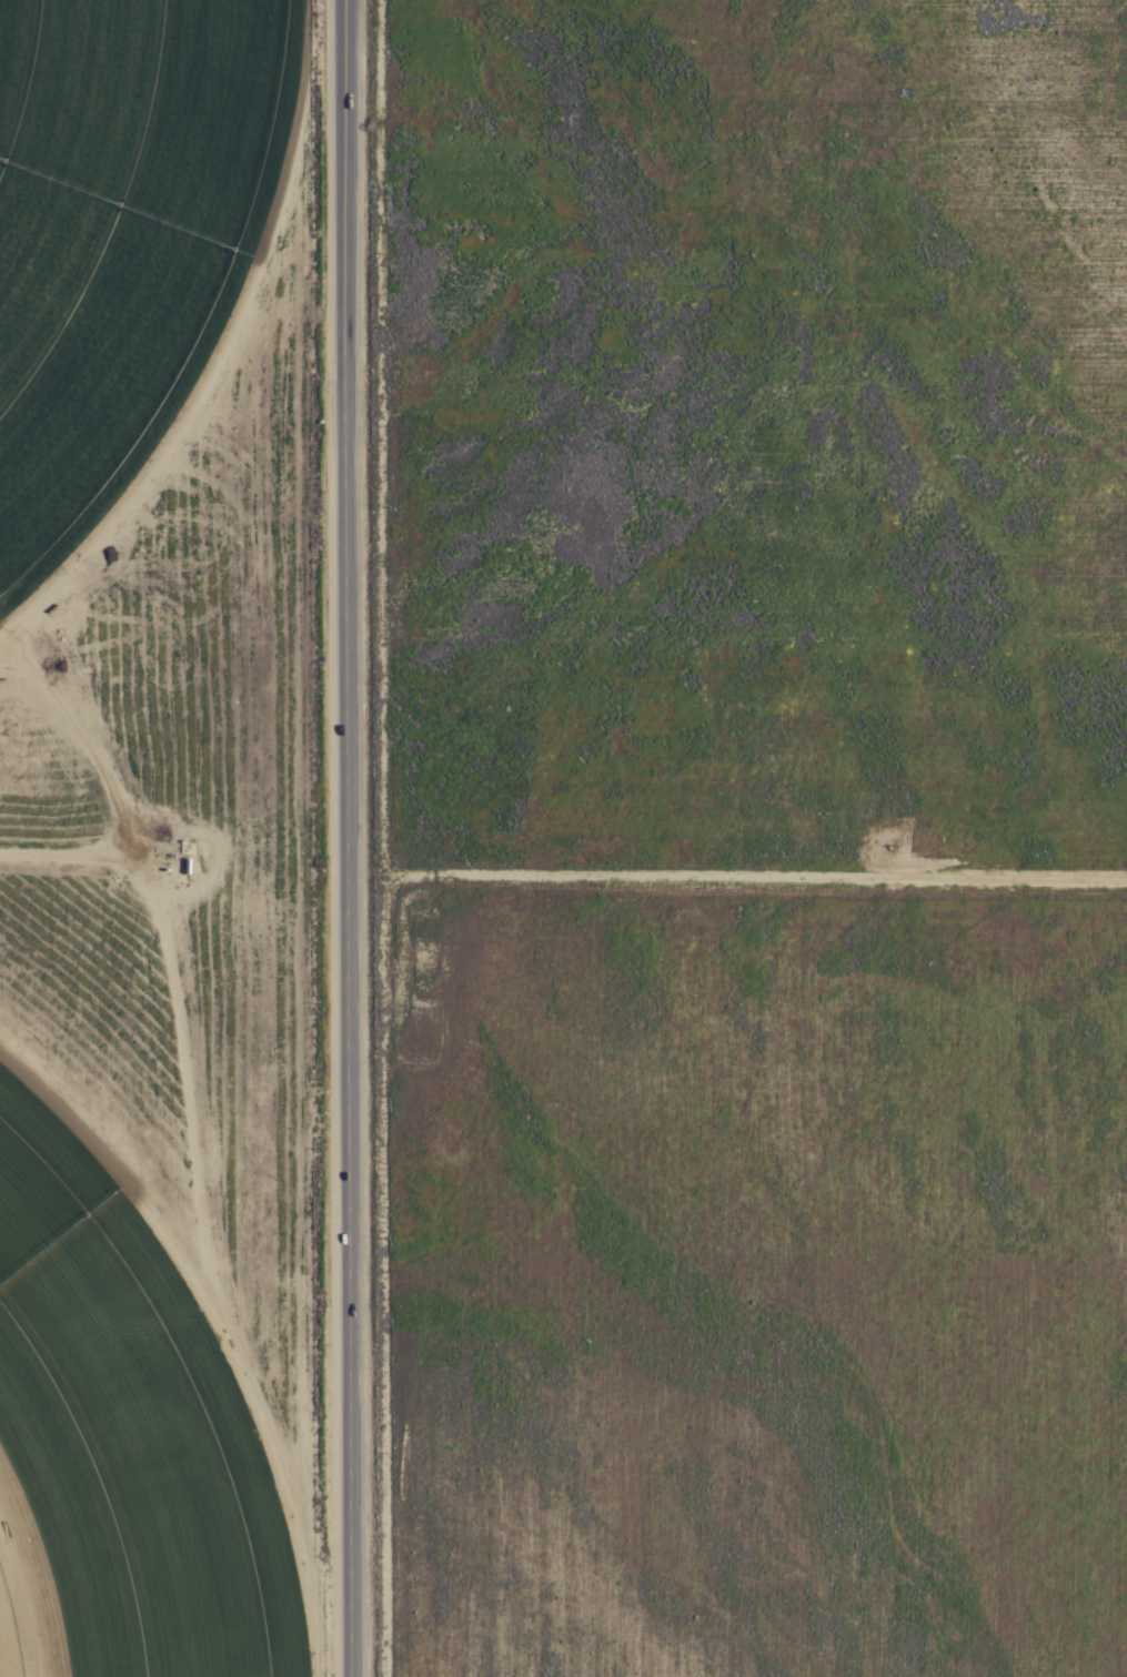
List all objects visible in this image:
crop: (674, 769)
road: (368, 838)
crop: (135, 1434)

